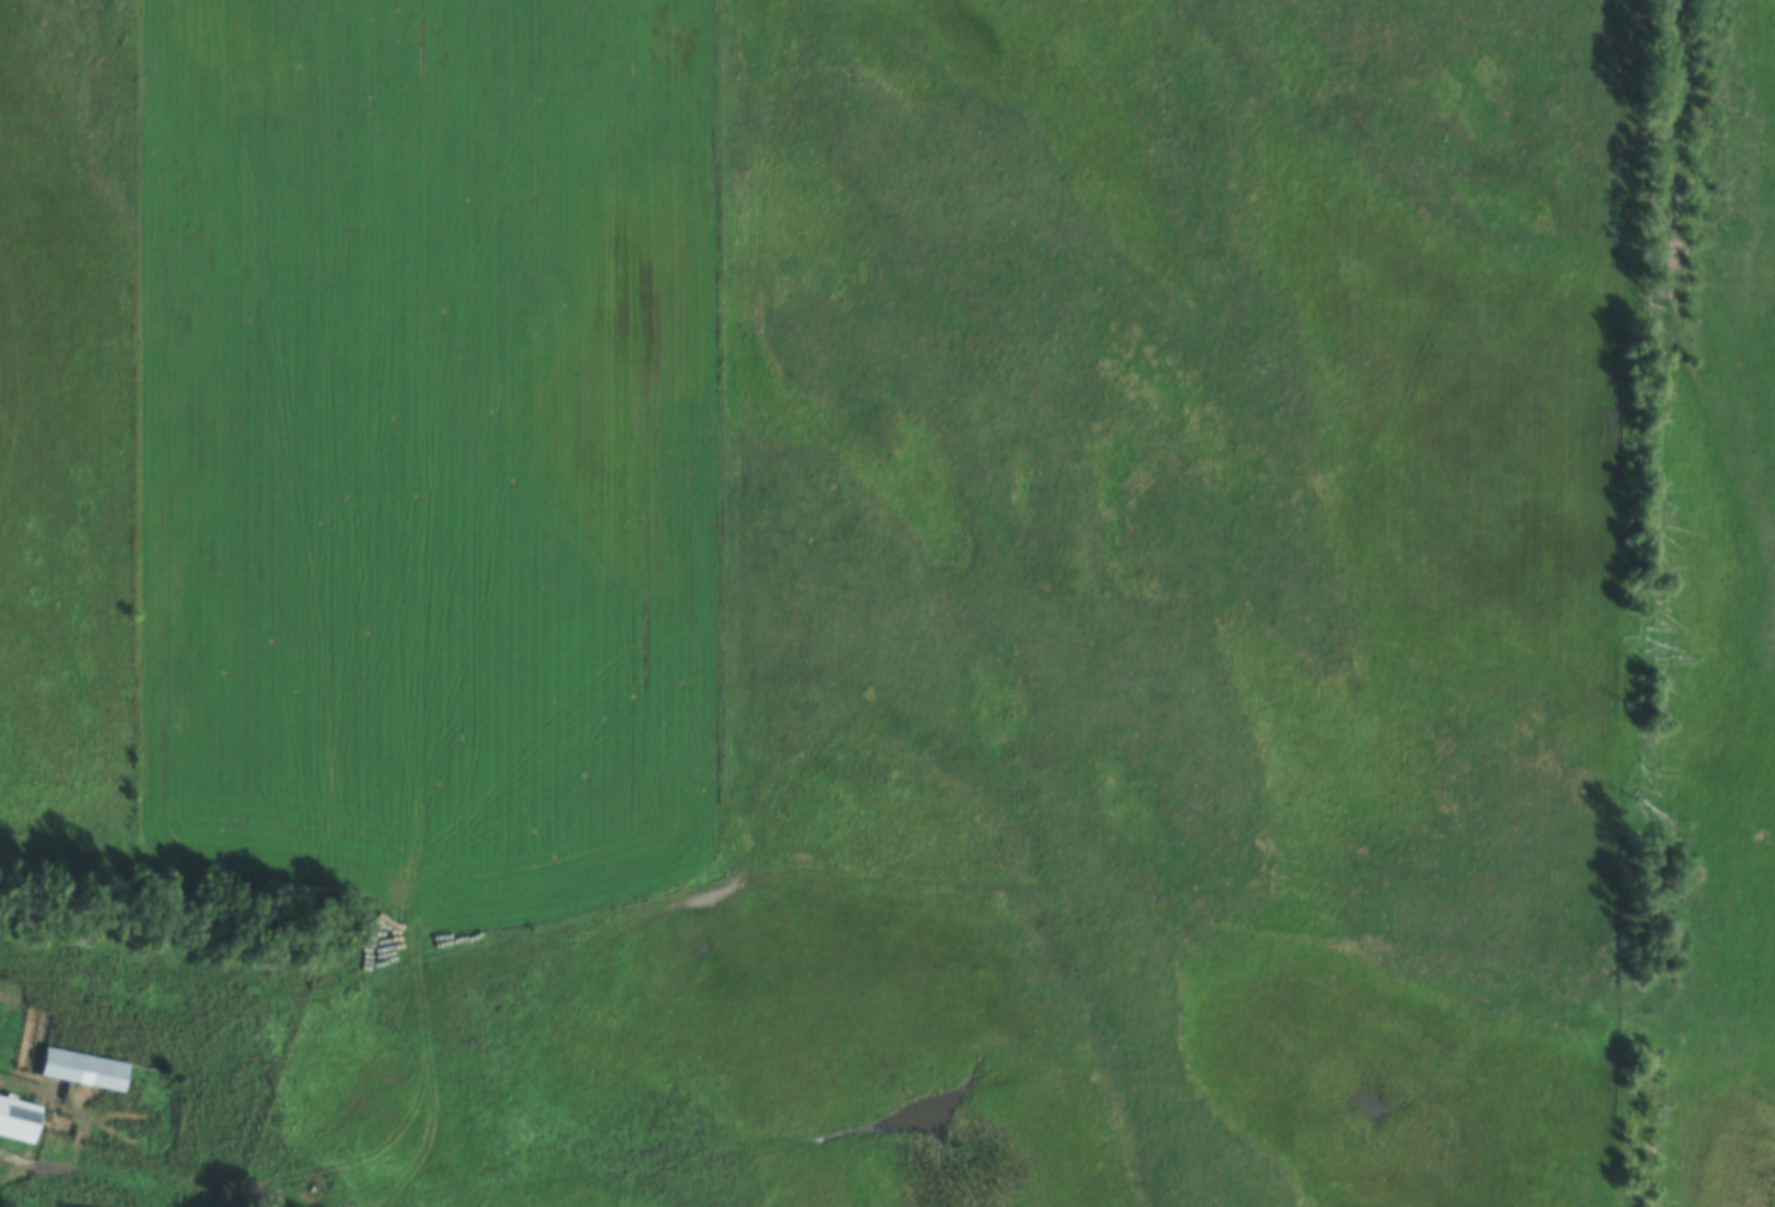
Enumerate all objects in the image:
building: (81, 1081)
building: (17, 1133)

